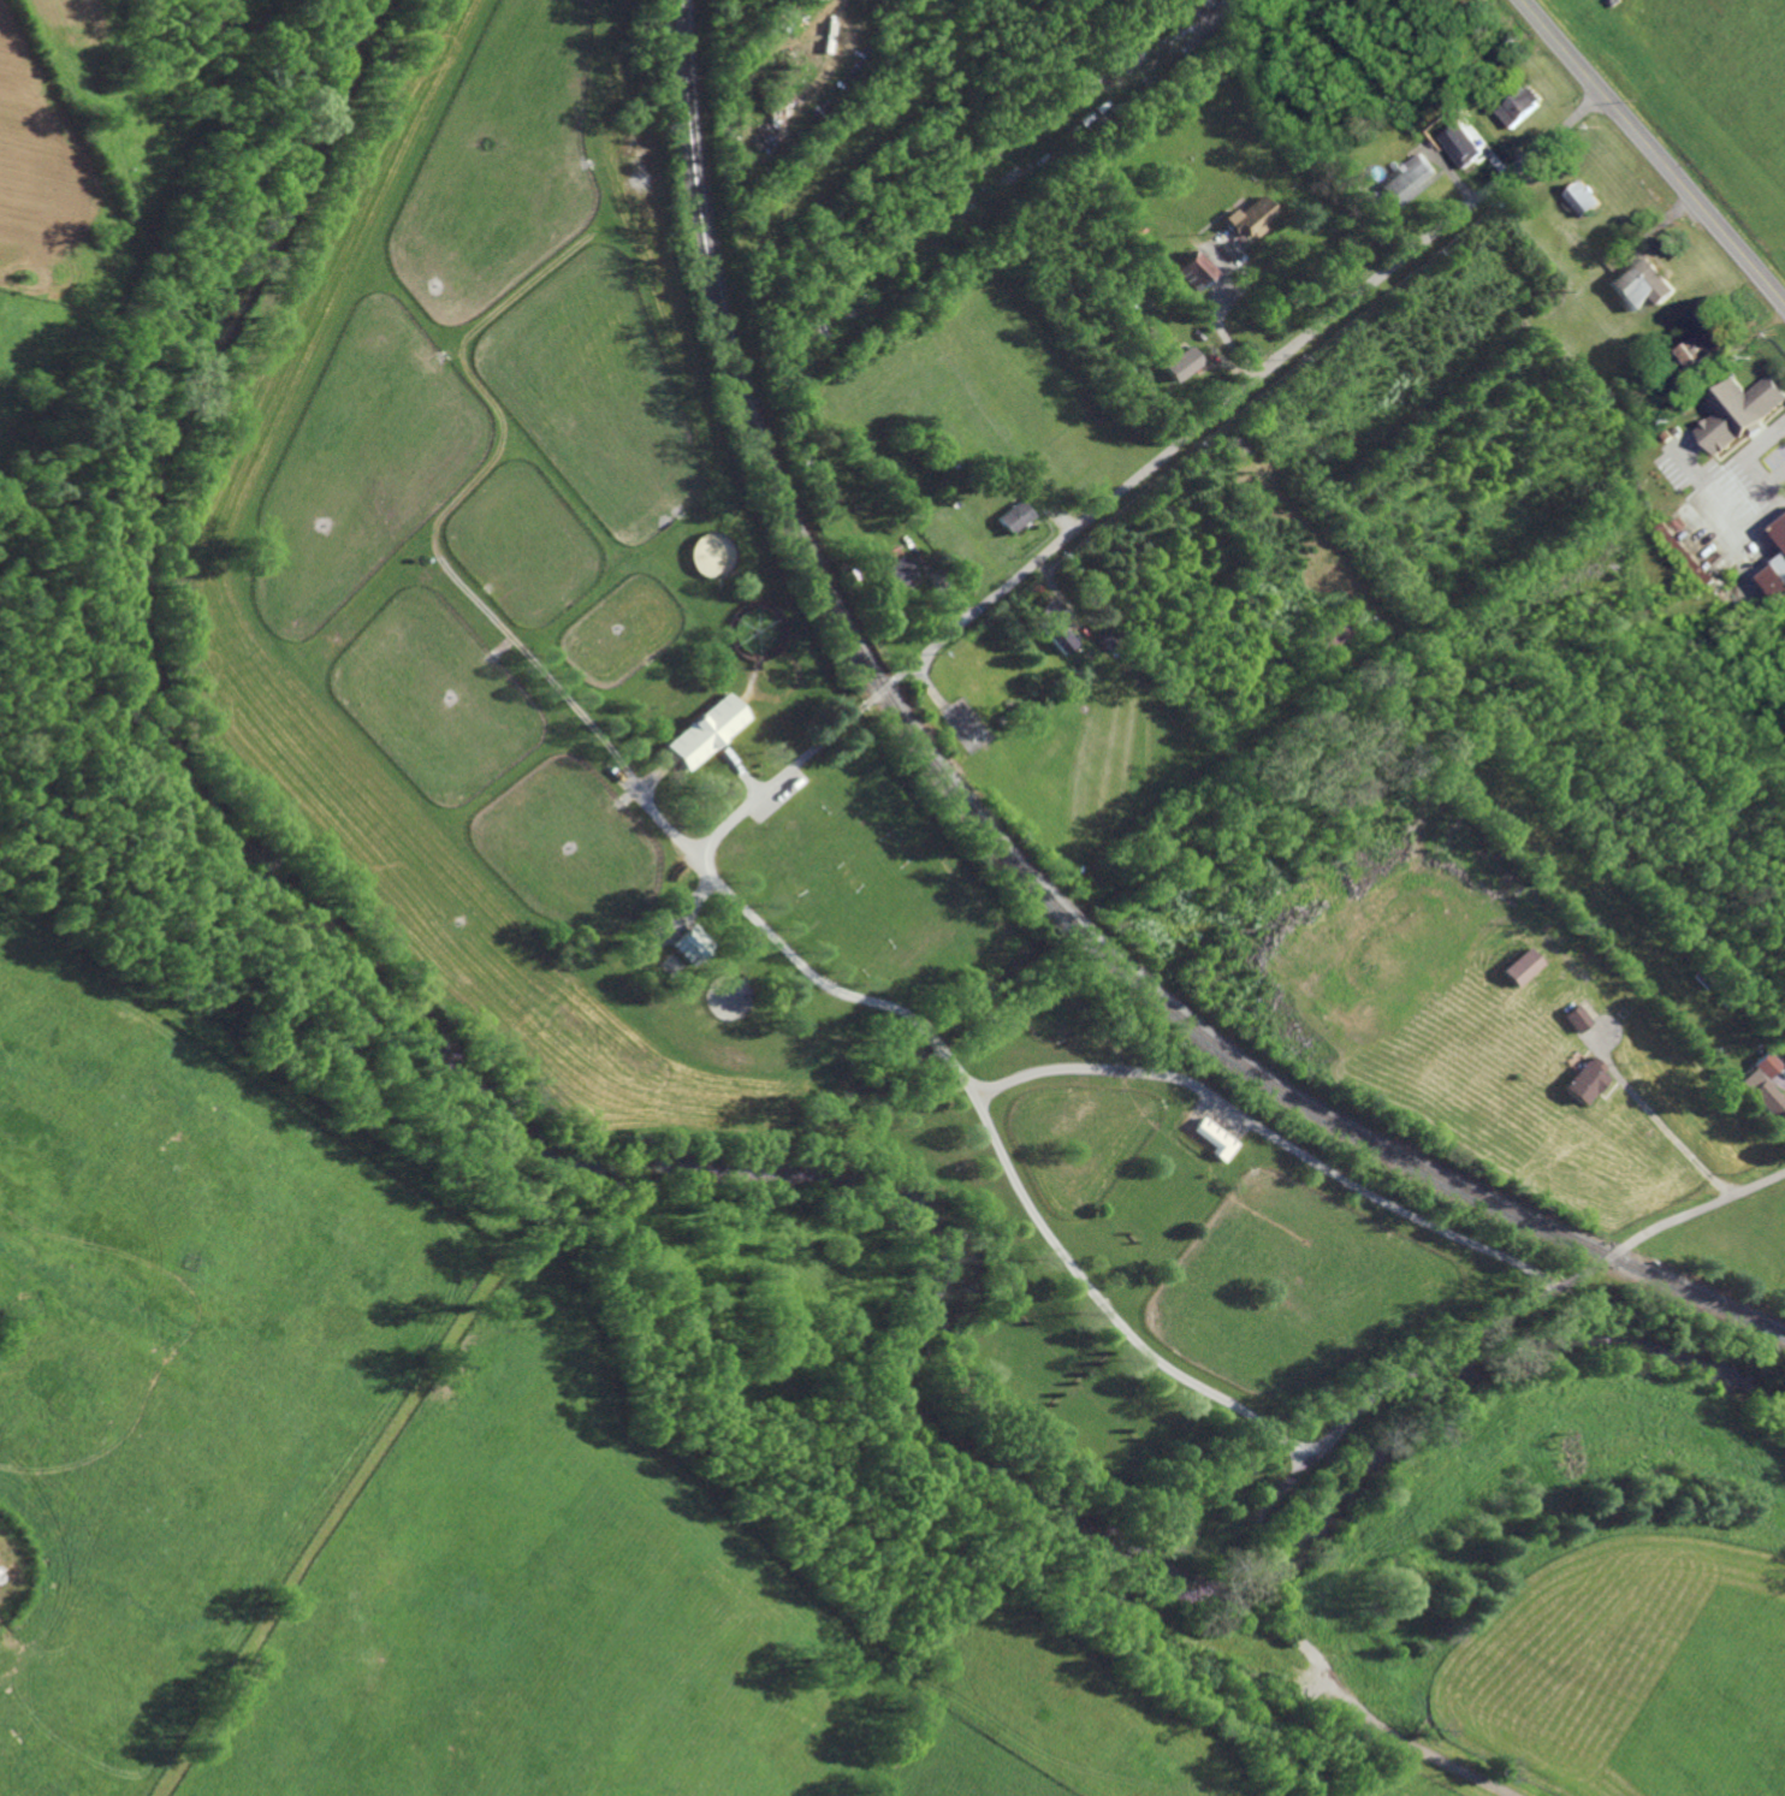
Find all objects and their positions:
building: (1613, 1)
building: (1016, 4)
building: (791, 5)
building: (1182, 5)
building: (1166, 7)
building: (785, 17)
building: (862, 22)
building: (1151, 28)
building: (1123, 35)
building: (758, 41)
building: (765, 49)
building: (748, 51)
building: (906, 57)
building: (741, 87)
building: (1519, 105)
building: (1460, 143)
road: (1655, 150)
building: (740, 158)
building: (1407, 177)
building: (1583, 196)
building: (1249, 215)
building: (1517, 229)
building: (1191, 268)
building: (1642, 281)
road: (1215, 315)
building: (1154, 334)
building: (1692, 352)
building: (1181, 363)
road: (1257, 378)
building: (1631, 386)
building: (1739, 411)
building: (985, 463)
building: (813, 481)
building: (1014, 515)
building: (1781, 530)
building: (1686, 552)
building: (941, 563)
building: (895, 573)
building: (850, 574)
building: (1778, 581)
building: (1054, 624)
building: (811, 627)
building: (1329, 633)
building: (1109, 640)
building: (1089, 652)
building: (1126, 675)
building: (1147, 680)
building: (1022, 706)
building: (704, 731)
road: (801, 758)
railway: (1003, 849)
building: (692, 942)
road: (795, 952)
building: (1520, 965)
building: (1576, 1016)
road: (927, 1031)
building: (1773, 1066)
building: (1585, 1079)
building: (1778, 1114)
road: (1249, 1125)
building: (1215, 1138)
road: (1676, 1138)
road: (1704, 1208)
road: (1104, 1305)
road: (1430, 1362)

